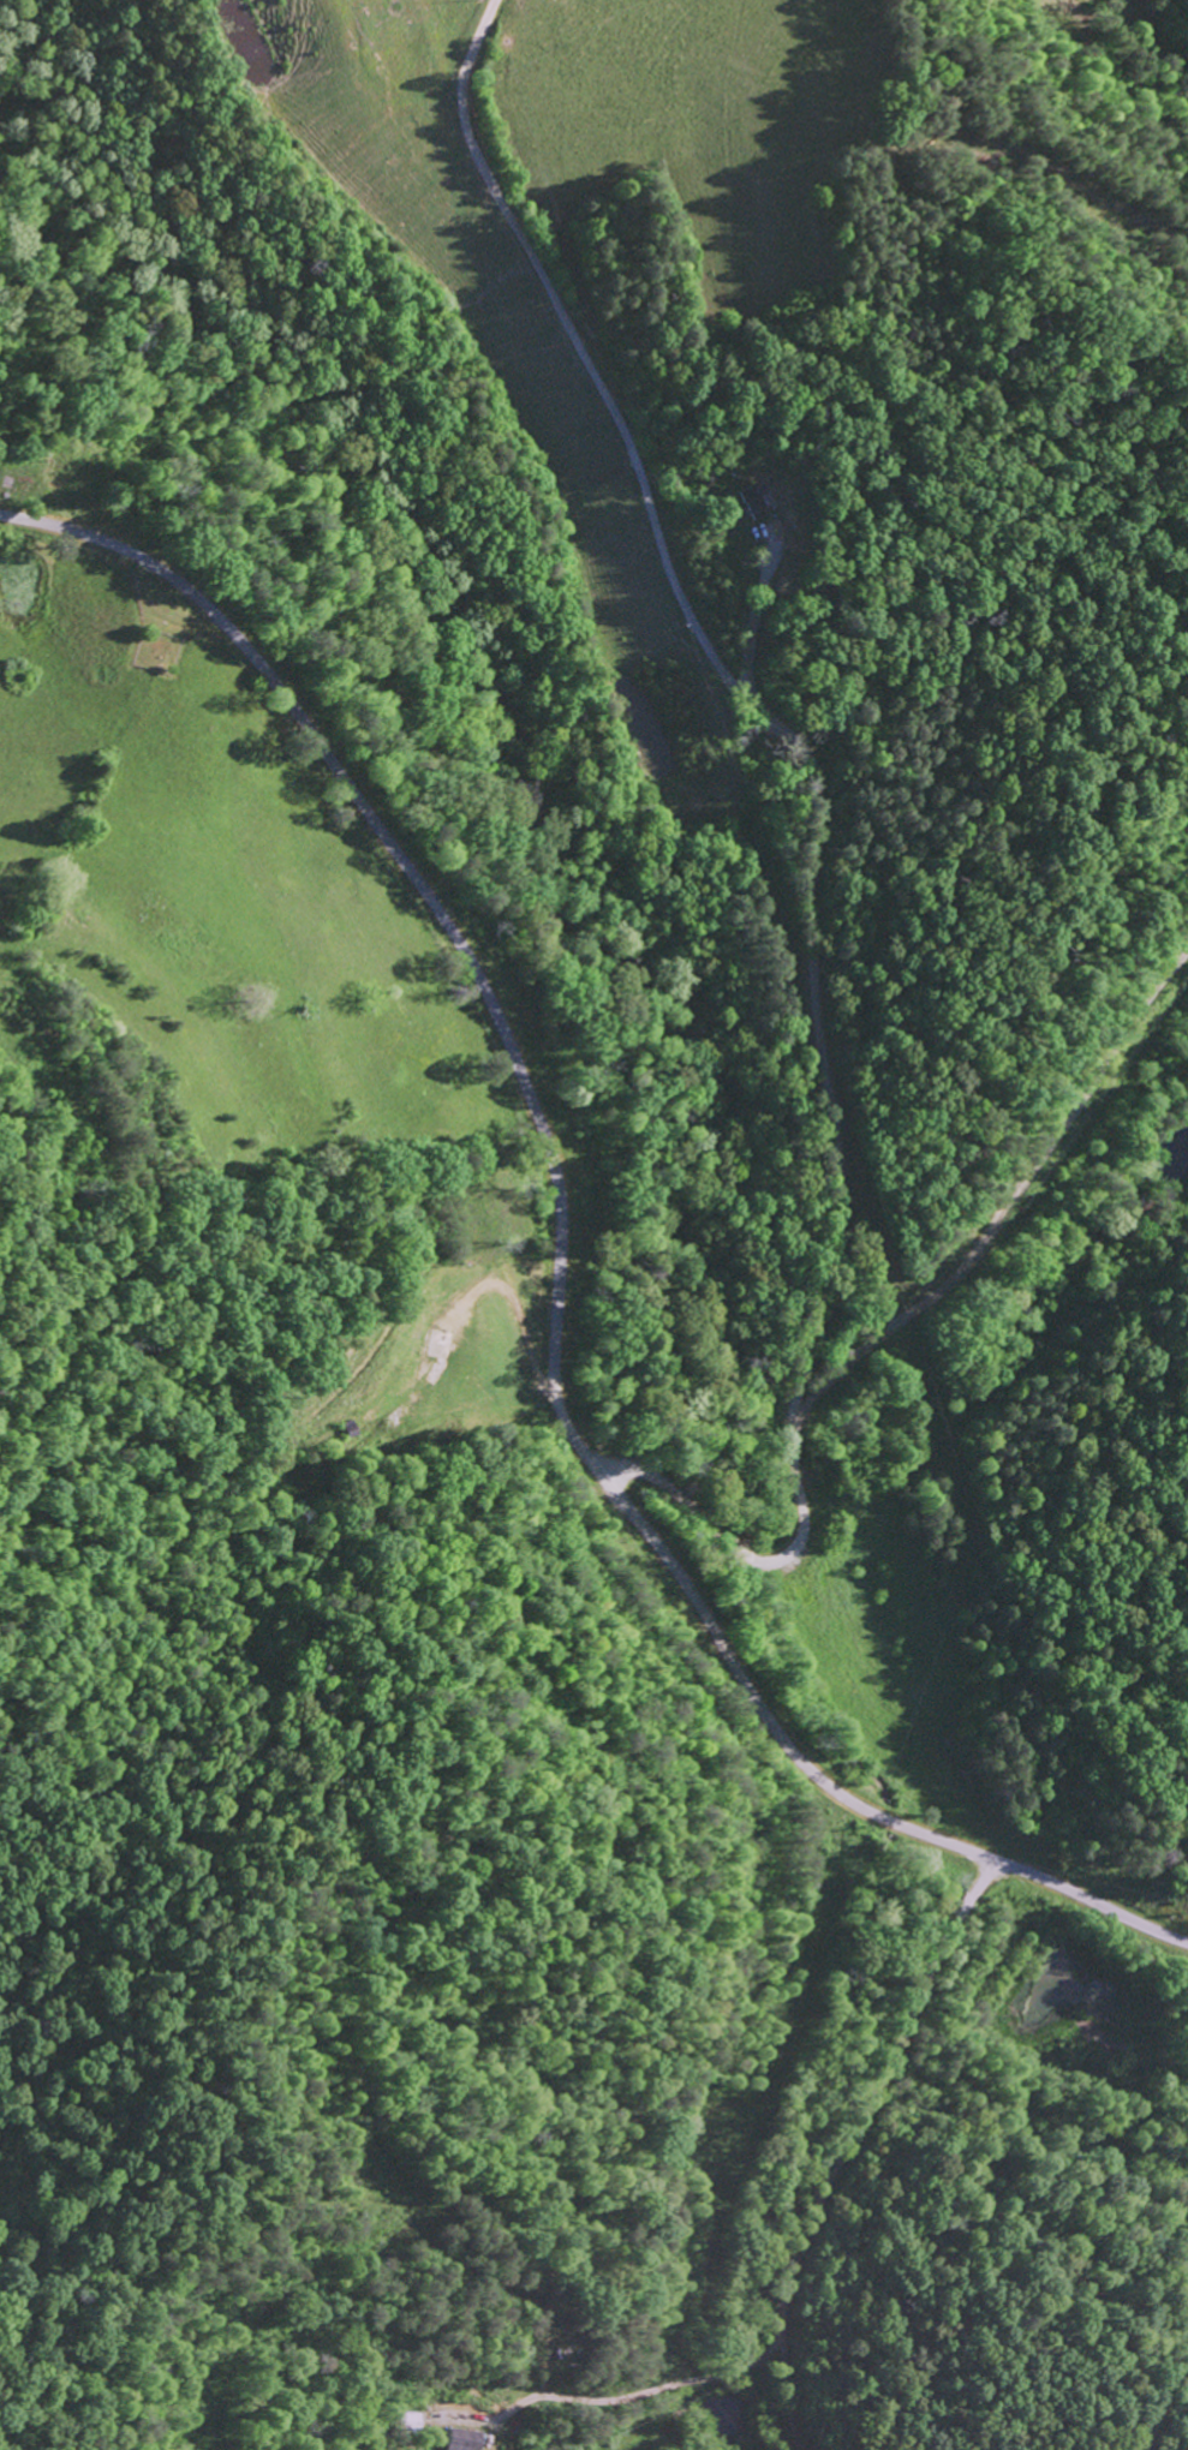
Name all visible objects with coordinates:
building: (757, 506)
road: (437, 910)
road: (811, 972)
road: (694, 1513)
road: (835, 1787)
road: (849, 2144)
building: (462, 2439)

